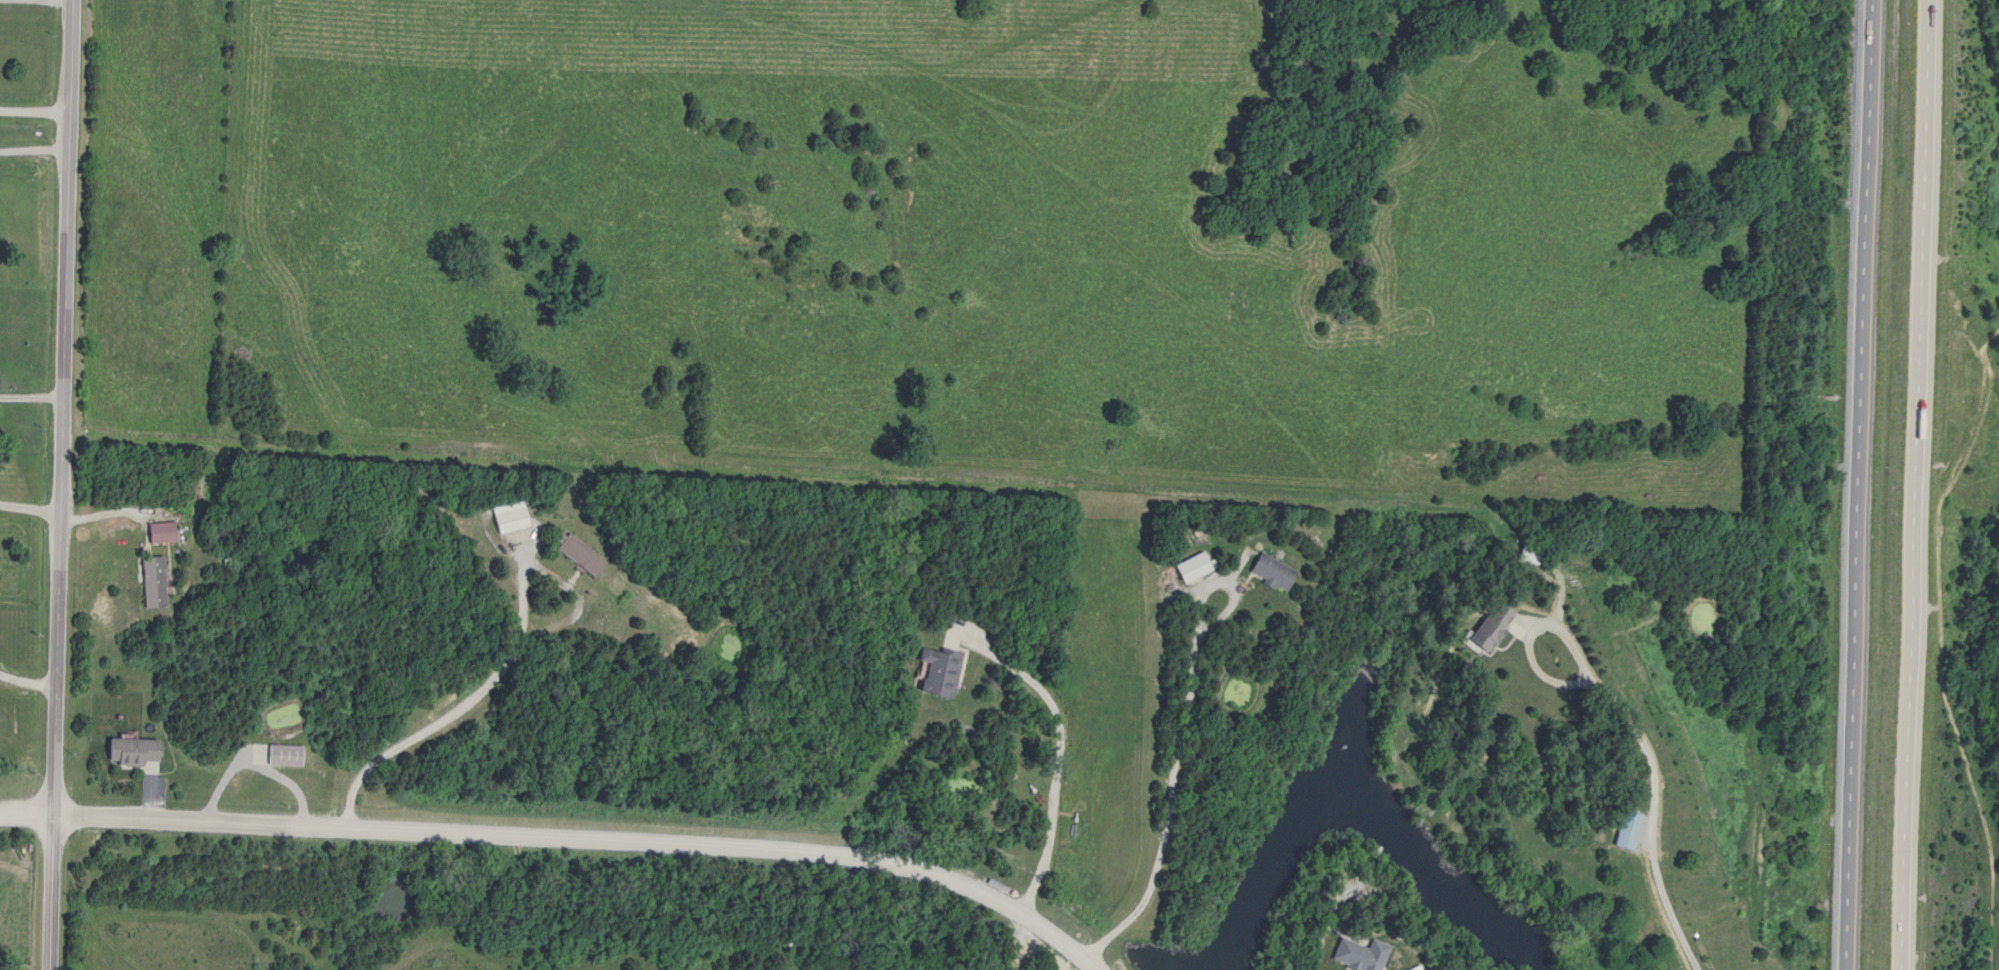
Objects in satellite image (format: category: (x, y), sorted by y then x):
road: (34, 106)
road: (34, 151)
road: (31, 395)
road: (58, 485)
road: (1859, 485)
road: (1918, 485)
road: (29, 505)
building: (506, 519)
building: (158, 532)
park: (1984, 545)
building: (574, 552)
building: (1527, 552)
building: (1189, 566)
building: (1269, 570)
building: (151, 581)
building: (1485, 627)
road: (1524, 632)
road: (500, 663)
building: (936, 671)
road: (26, 680)
road: (1174, 744)
road: (1055, 749)
building: (129, 751)
road: (24, 815)
road: (1648, 817)
building: (1624, 829)
road: (584, 840)

